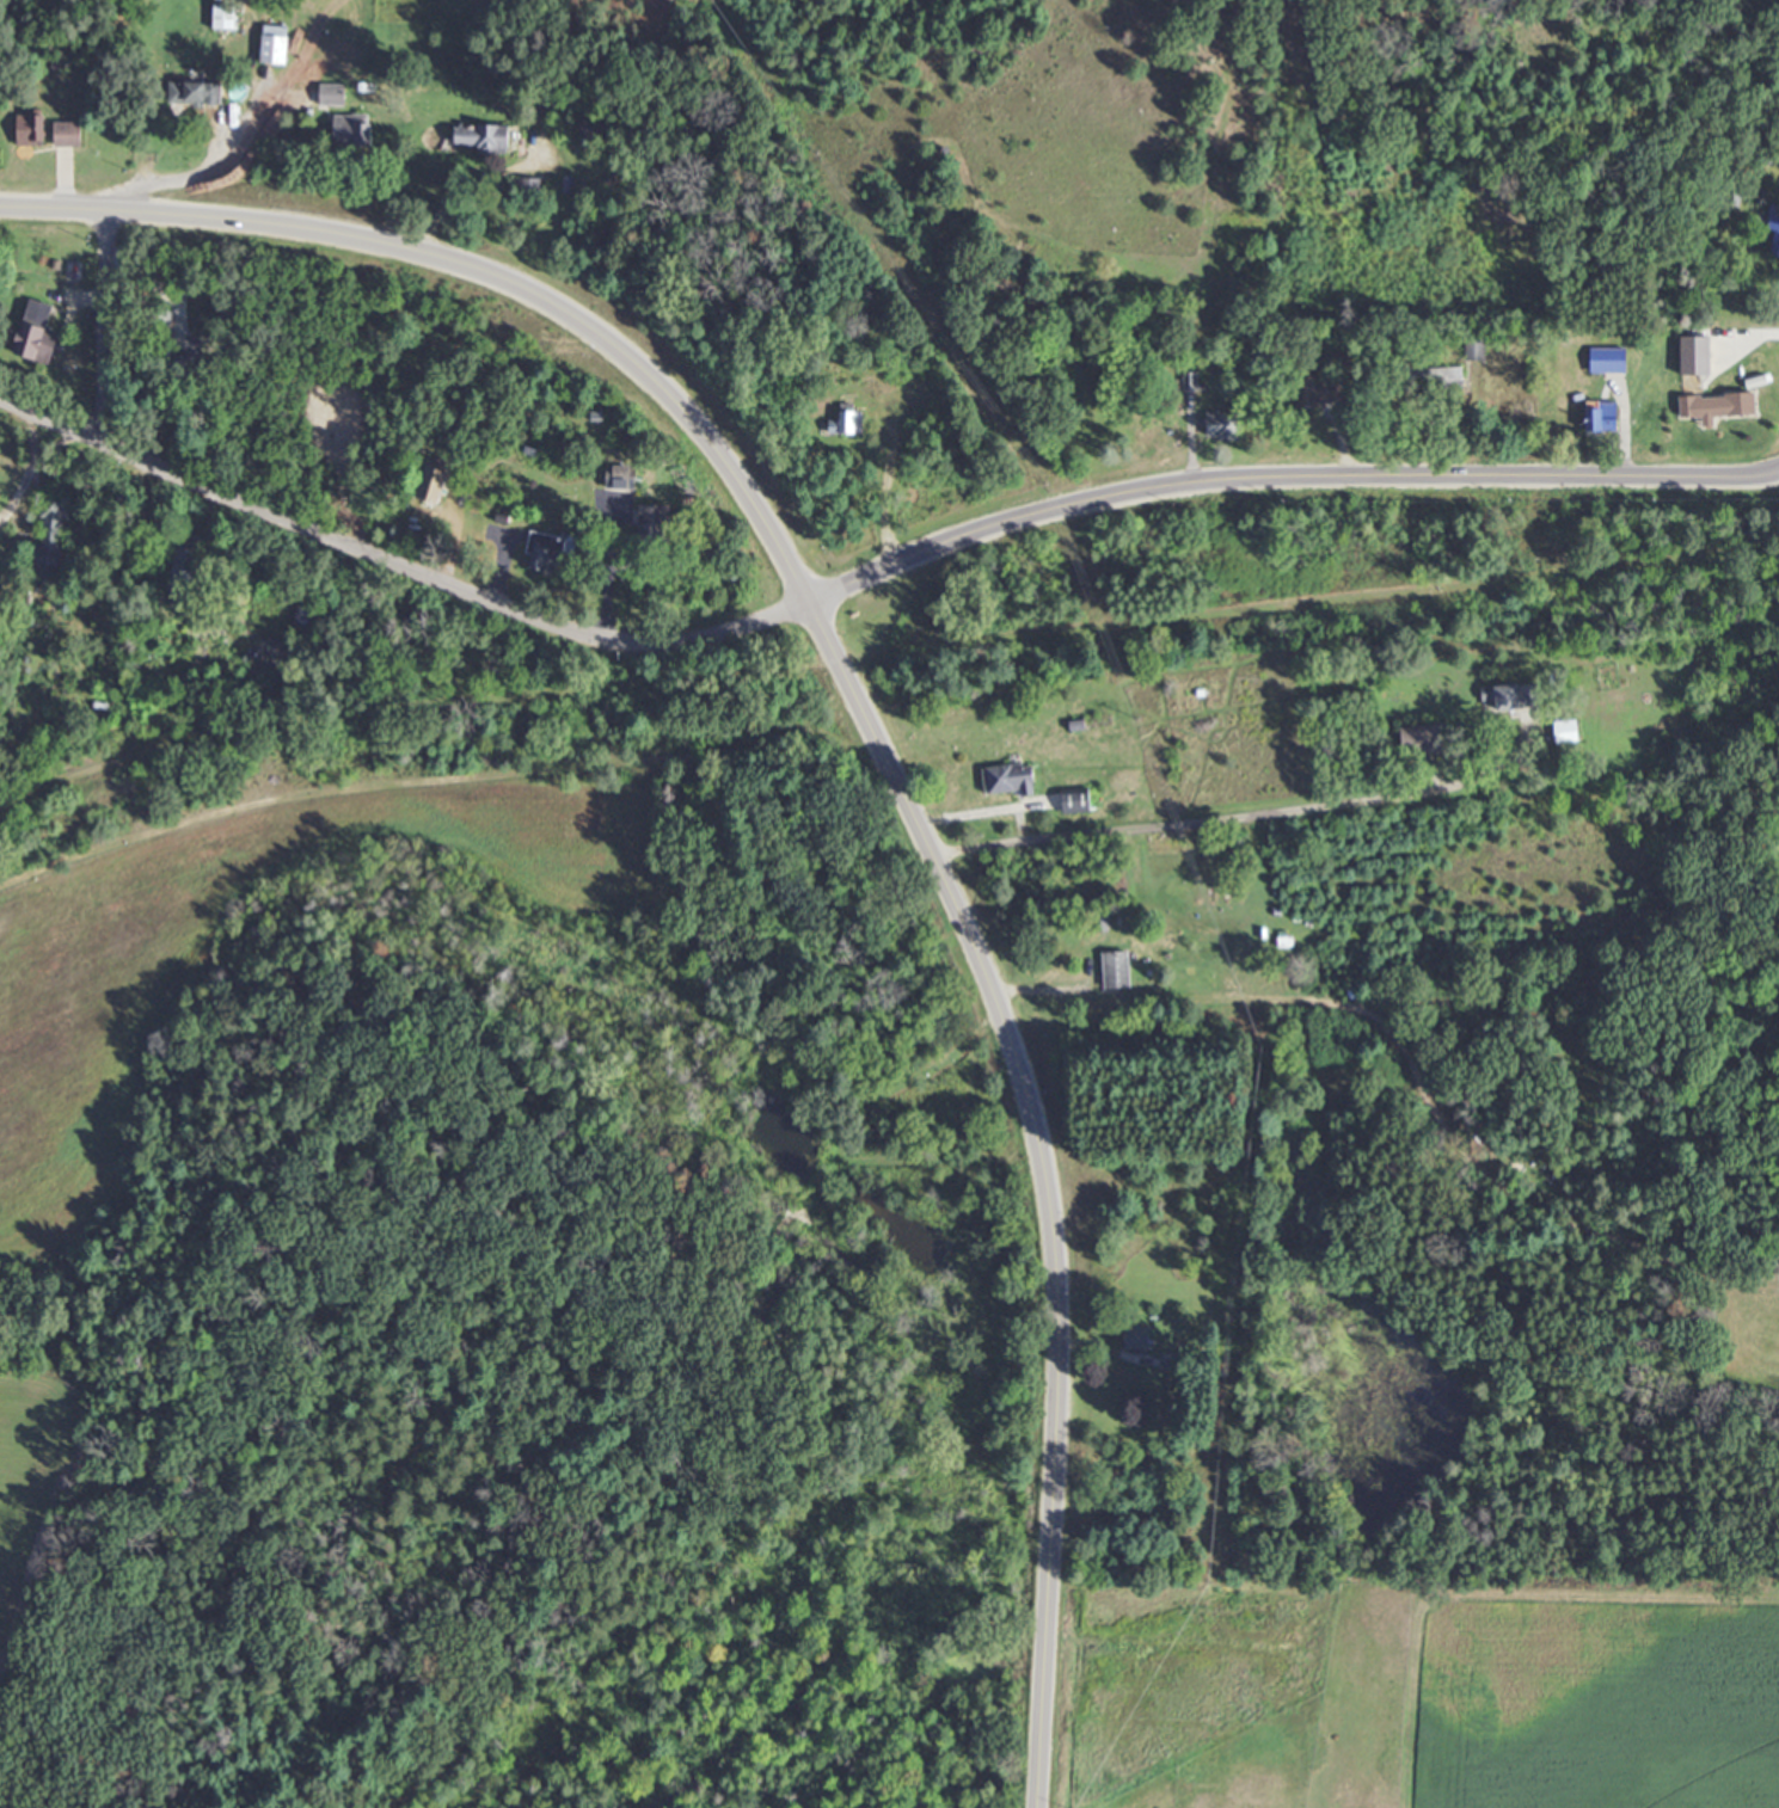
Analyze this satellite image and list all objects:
building: (220, 18)
building: (270, 45)
building: (192, 94)
building: (329, 97)
building: (490, 127)
building: (25, 130)
building: (349, 131)
building: (65, 137)
building: (538, 173)
road: (61, 178)
building: (1772, 229)
road: (474, 269)
road: (98, 325)
building: (33, 334)
road: (1752, 334)
building: (1472, 348)
building: (1693, 356)
building: (1607, 361)
building: (1440, 377)
building: (1329, 390)
building: (1700, 408)
building: (1597, 414)
building: (845, 424)
building: (1222, 428)
road: (1189, 441)
road: (1341, 444)
road: (1283, 476)
building: (622, 479)
building: (430, 481)
building: (651, 524)
building: (50, 525)
building: (542, 554)
road: (398, 562)
building: (180, 571)
building: (306, 619)
road: (885, 654)
building: (1508, 699)
building: (1563, 732)
building: (1006, 781)
road: (1234, 812)
building: (1114, 971)
road: (1172, 1006)
road: (1048, 1179)
building: (1135, 1340)

